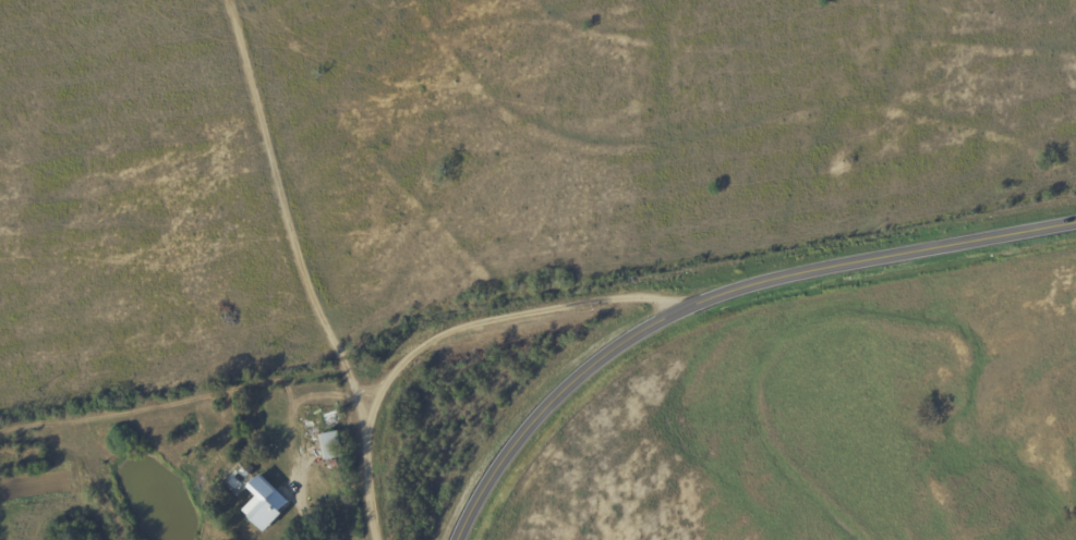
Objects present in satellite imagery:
road: (319, 200)
road: (716, 296)
road: (458, 330)
building: (330, 444)
building: (264, 502)
road: (300, 515)

